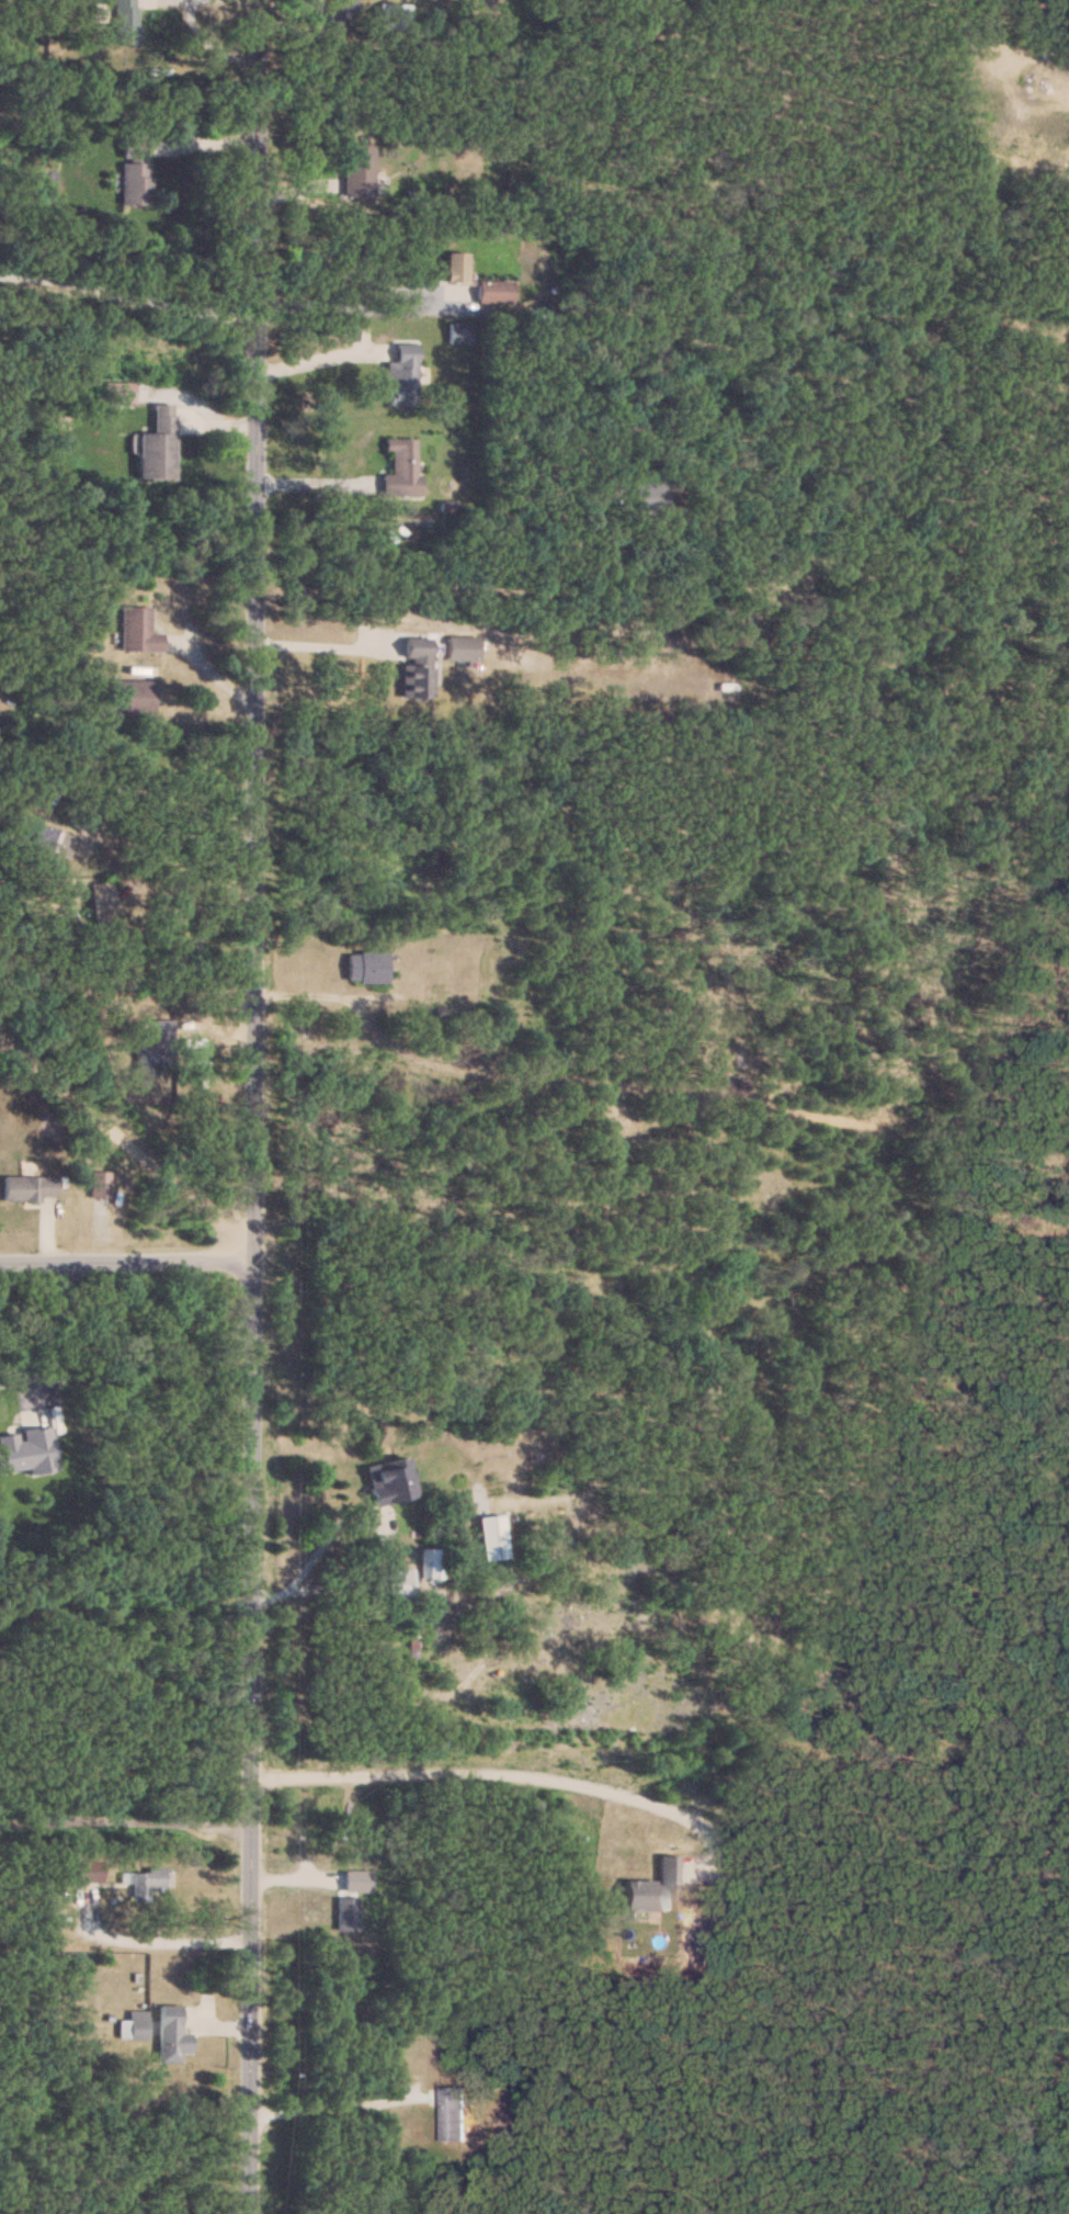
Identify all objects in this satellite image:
building: (342, 12)
building: (394, 16)
building: (126, 22)
building: (360, 170)
building: (135, 171)
building: (456, 266)
building: (496, 291)
road: (126, 296)
road: (343, 305)
building: (460, 331)
road: (319, 358)
building: (403, 375)
building: (157, 445)
building: (401, 465)
road: (310, 482)
building: (651, 492)
road: (469, 587)
building: (137, 631)
road: (316, 644)
building: (463, 647)
building: (417, 668)
building: (129, 697)
road: (171, 832)
building: (52, 839)
road: (192, 884)
building: (101, 902)
building: (368, 967)
building: (157, 1048)
road: (255, 1107)
road: (128, 1140)
building: (27, 1188)
road: (128, 1261)
road: (55, 1324)
building: (389, 1482)
road: (351, 1518)
building: (491, 1538)
building: (428, 1563)
building: (395, 1583)
road: (508, 1773)
road: (124, 1819)
building: (88, 1872)
building: (144, 1884)
building: (655, 1889)
building: (345, 1913)
road: (148, 1940)
building: (133, 2026)
building: (171, 2035)
road: (321, 2102)
building: (458, 2112)

